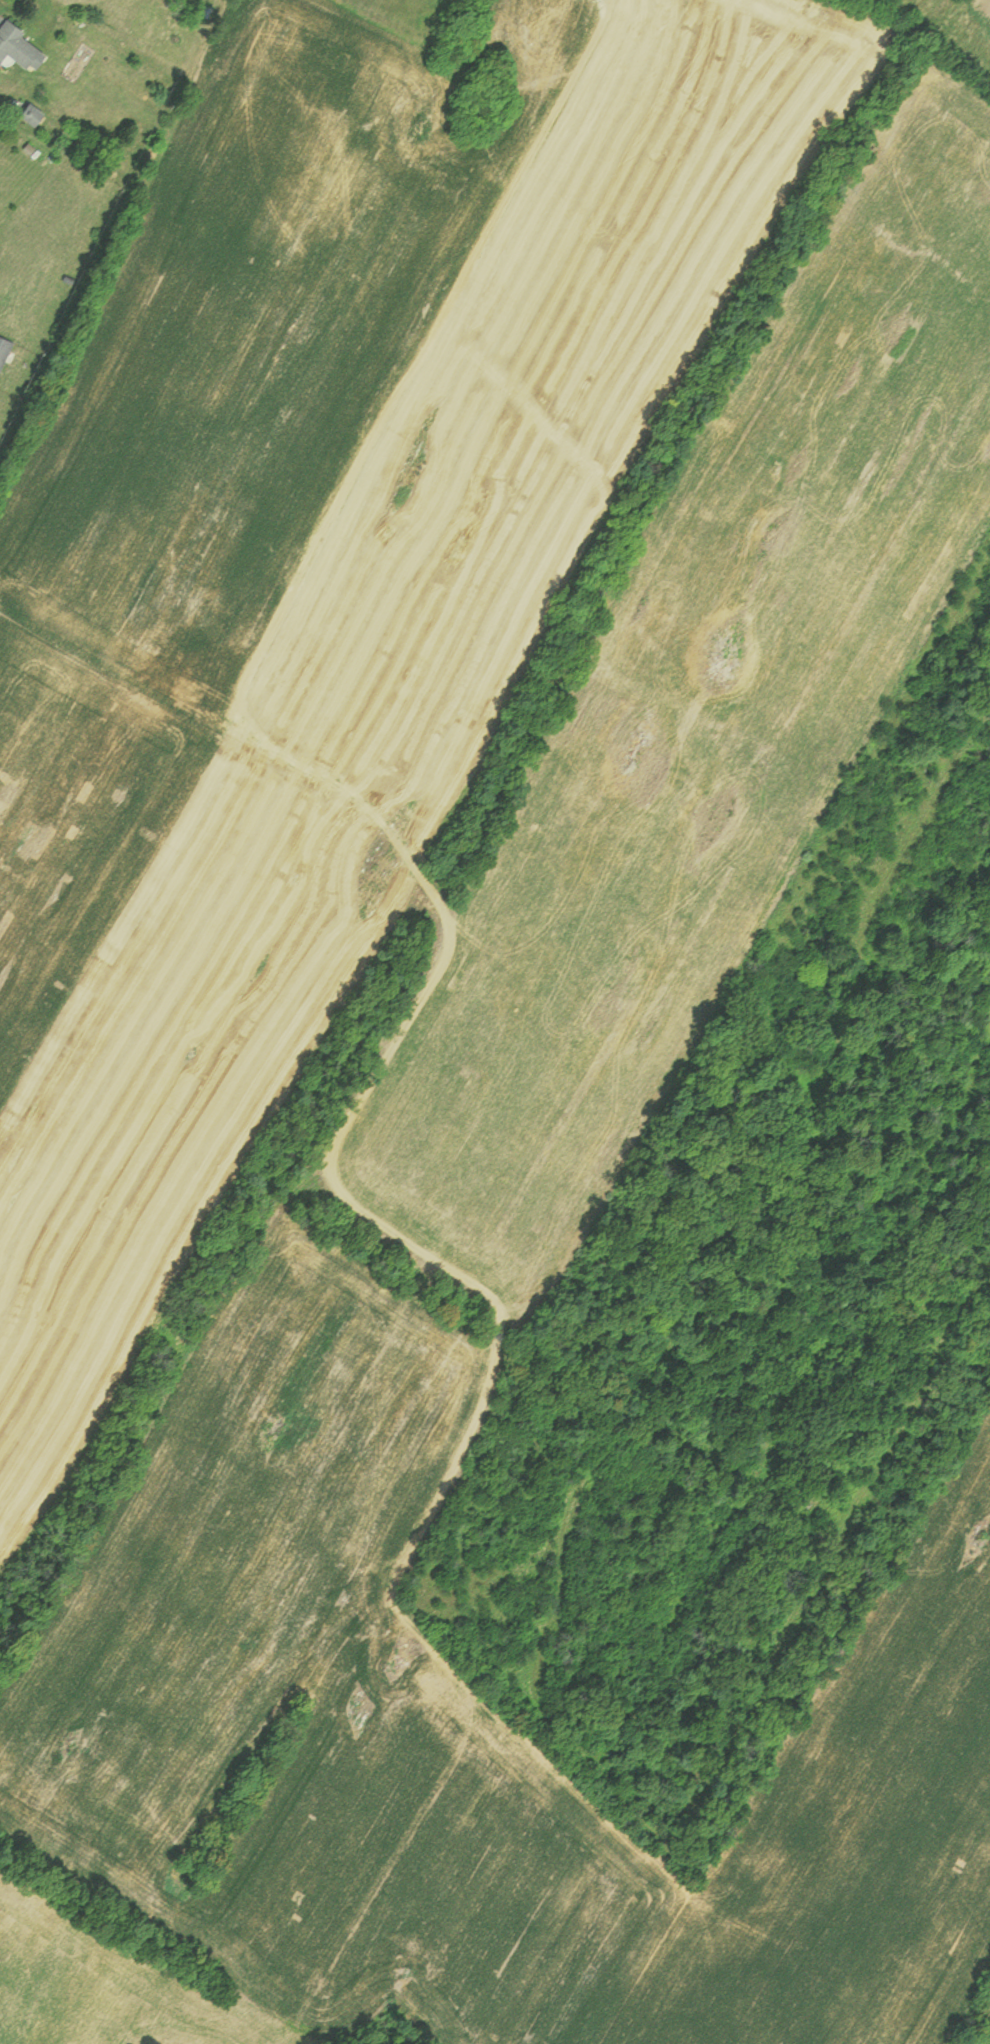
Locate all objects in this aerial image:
building: (18, 46)
building: (29, 111)
building: (3, 347)

